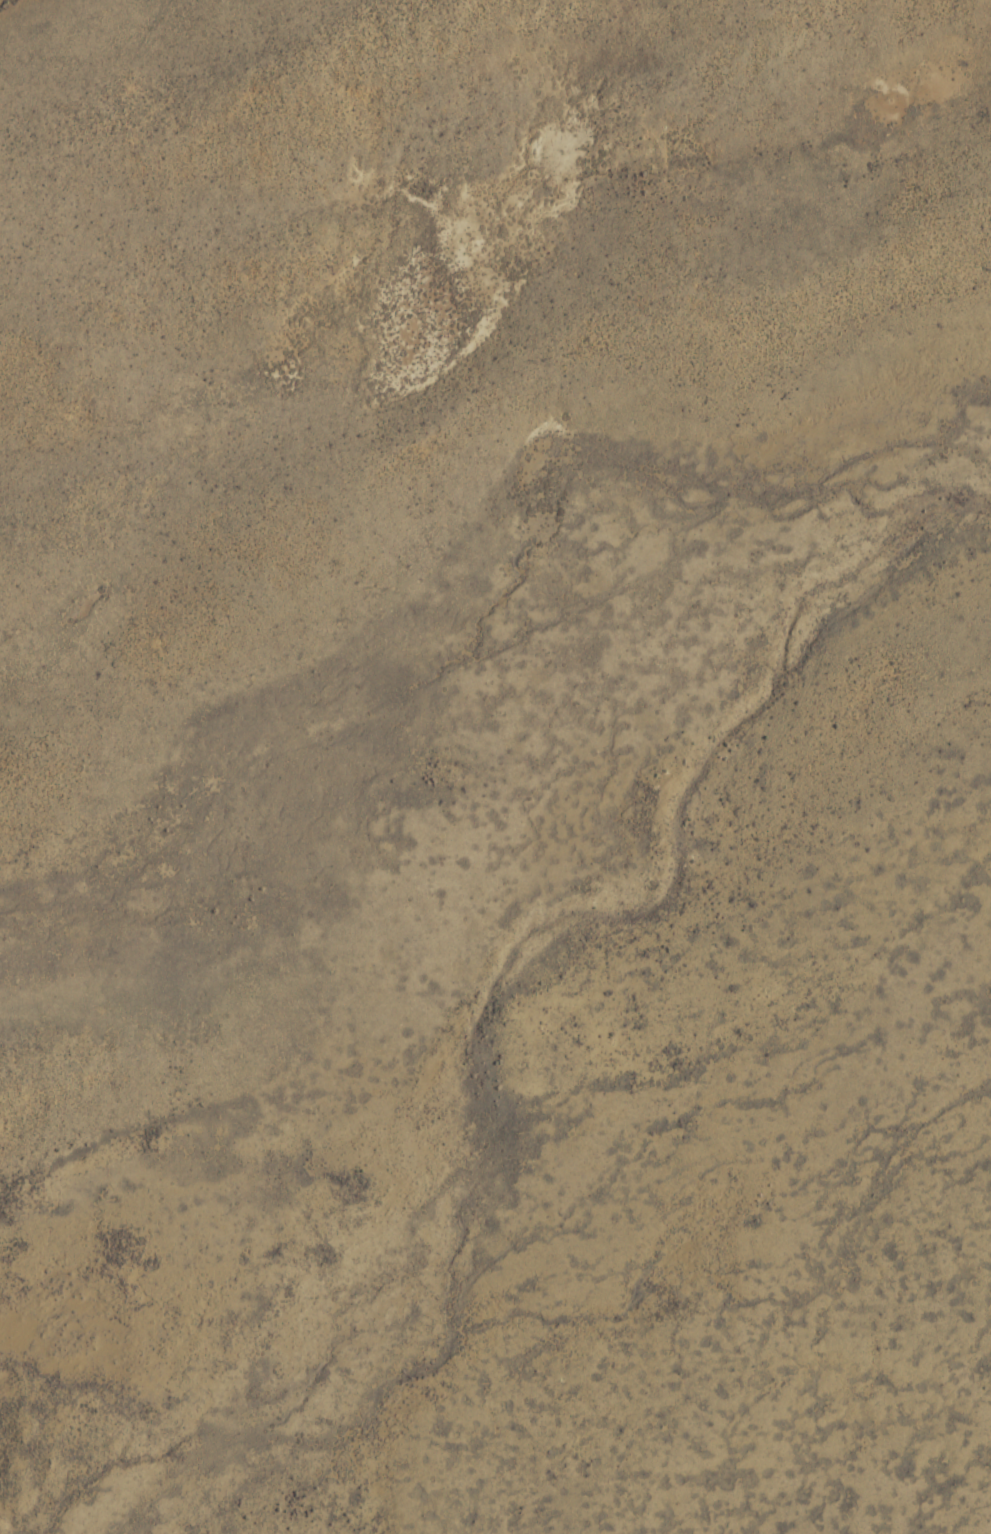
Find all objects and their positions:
river: (483, 981)

